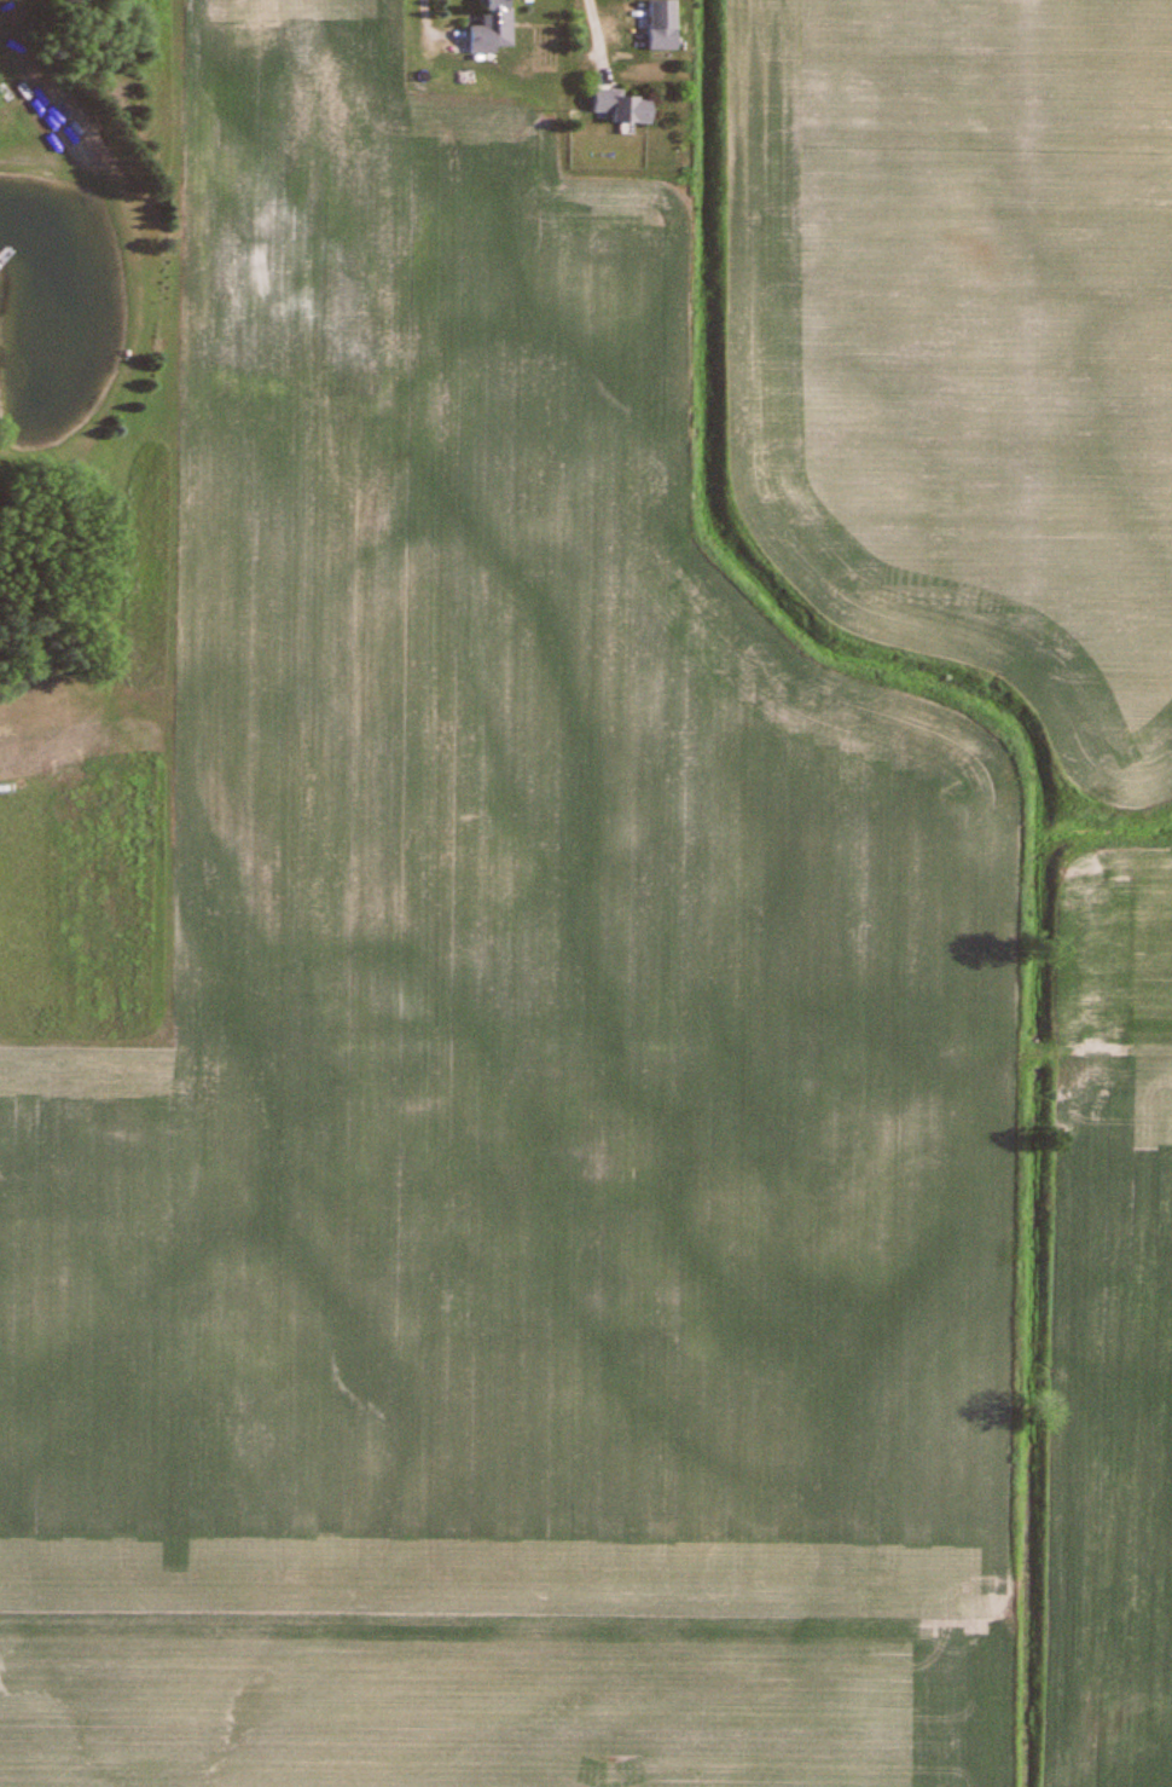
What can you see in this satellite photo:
building: (489, 28)
road: (592, 33)
building: (660, 40)
building: (617, 106)
building: (329, 336)

